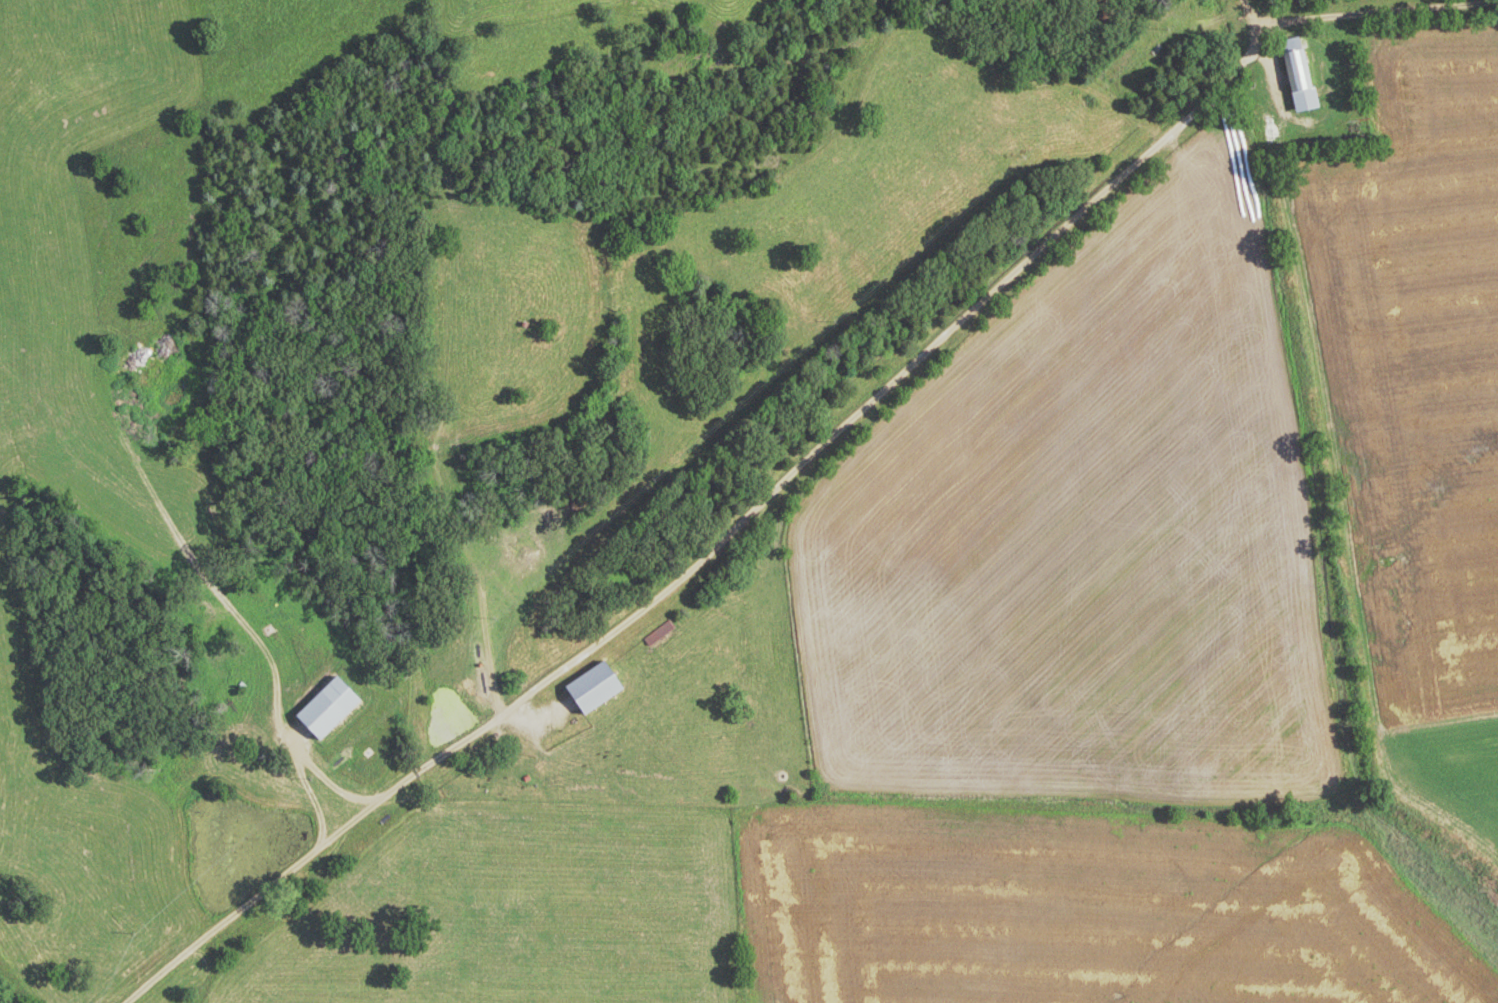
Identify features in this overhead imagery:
building: (1303, 74)
road: (808, 466)
building: (662, 635)
building: (600, 688)
building: (334, 708)

